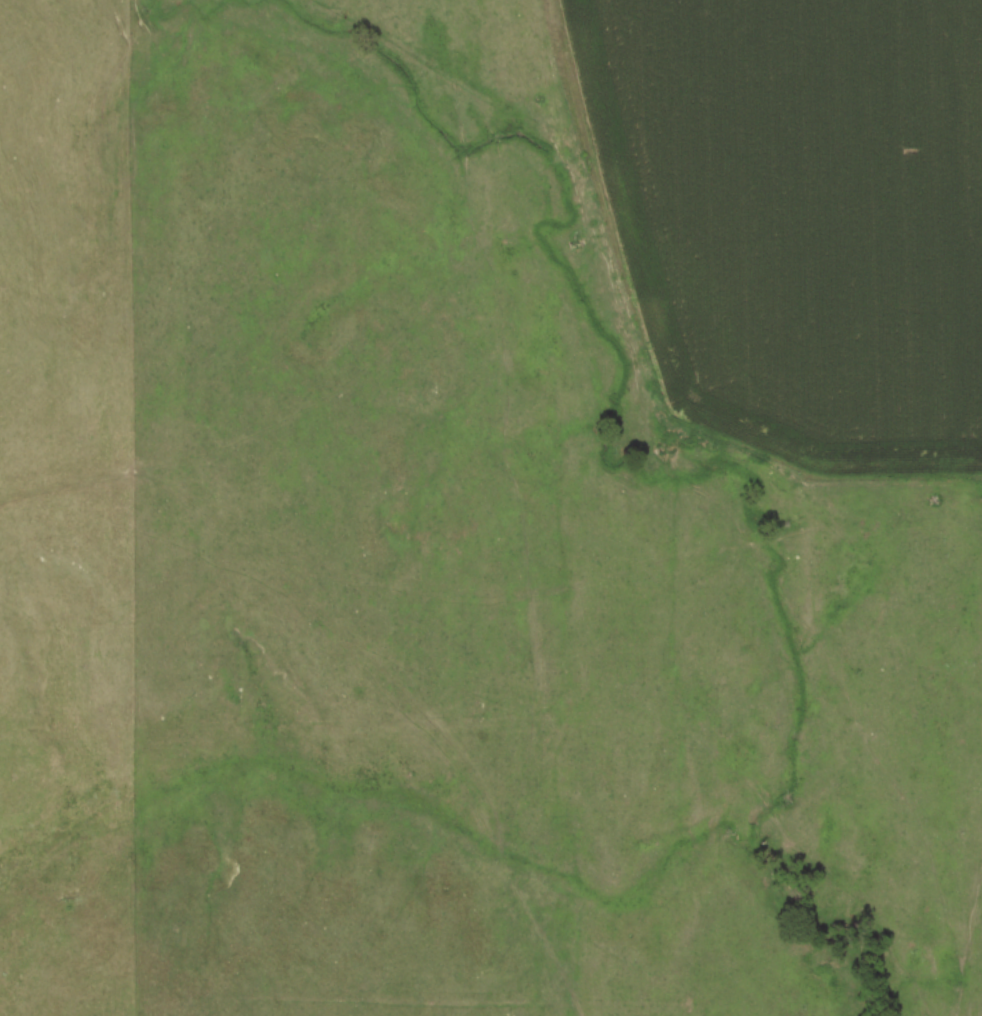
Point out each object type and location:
crop: (801, 216)

